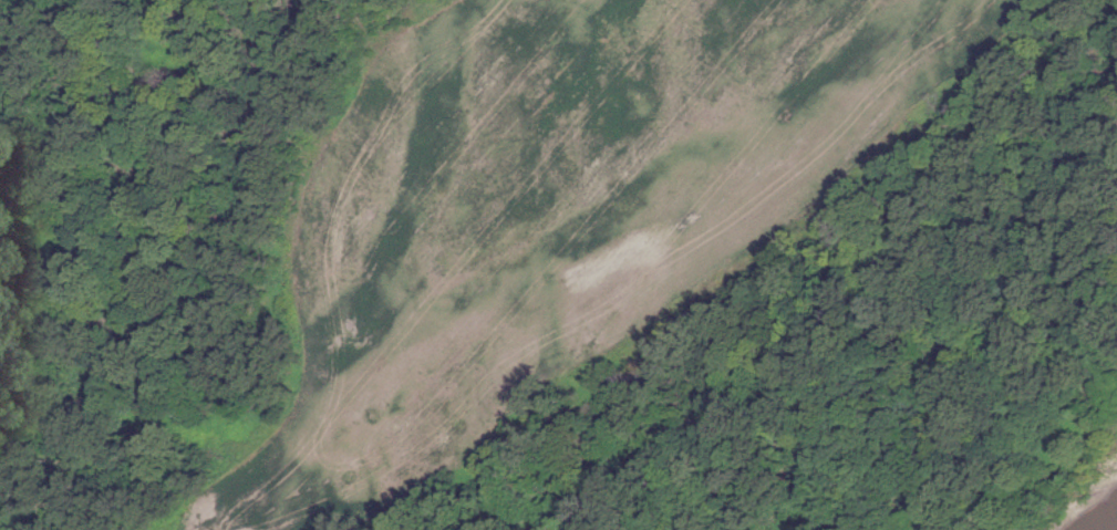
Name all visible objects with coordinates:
crop: (558, 210)

